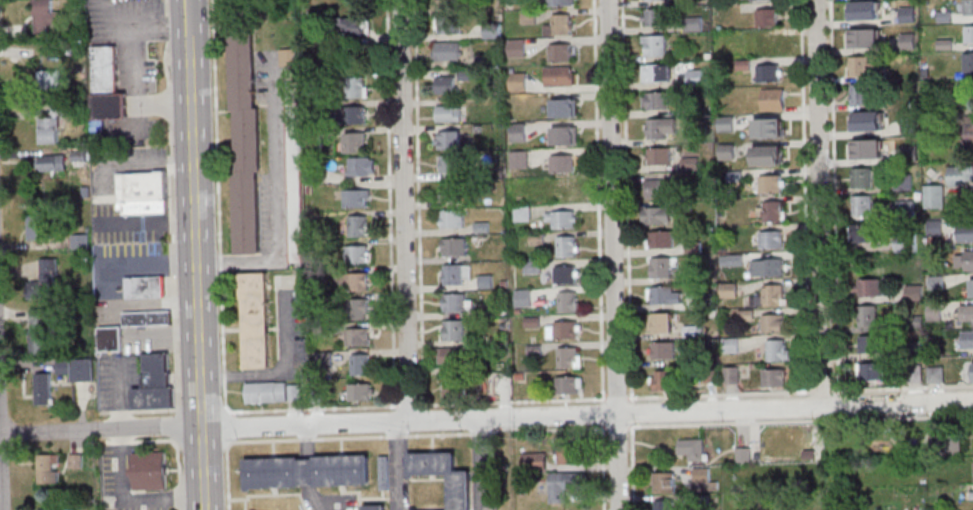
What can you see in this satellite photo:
building: (654, 0)
building: (765, 0)
building: (561, 2)
building: (448, 3)
building: (968, 7)
building: (864, 9)
building: (906, 14)
building: (46, 15)
road: (190, 16)
building: (767, 16)
building: (657, 17)
building: (447, 24)
building: (557, 25)
building: (355, 28)
building: (969, 33)
building: (865, 38)
building: (907, 40)
building: (655, 44)
building: (769, 44)
building: (517, 47)
building: (448, 50)
building: (560, 51)
building: (287, 57)
building: (969, 62)
road: (131, 65)
building: (862, 66)
building: (657, 72)
building: (767, 72)
building: (558, 75)
building: (51, 78)
building: (518, 79)
building: (106, 84)
building: (445, 84)
building: (356, 86)
building: (861, 93)
building: (772, 99)
building: (658, 100)
building: (563, 107)
building: (449, 112)
building: (356, 114)
building: (867, 120)
building: (726, 123)
building: (910, 125)
building: (767, 127)
building: (661, 128)
building: (48, 129)
building: (518, 131)
building: (563, 134)
building: (968, 136)
building: (450, 138)
building: (245, 139)
building: (354, 141)
building: (867, 148)
building: (726, 151)
building: (659, 155)
building: (767, 155)
building: (50, 162)
building: (452, 162)
building: (563, 163)
road: (148, 164)
building: (361, 165)
building: (294, 172)
building: (861, 176)
building: (960, 176)
building: (770, 182)
building: (903, 182)
building: (659, 187)
building: (566, 190)
building: (142, 192)
building: (453, 192)
road: (276, 194)
road: (805, 194)
road: (834, 194)
building: (934, 195)
building: (357, 197)
road: (419, 201)
road: (390, 202)
road: (820, 202)
road: (169, 205)
building: (861, 205)
road: (612, 206)
road: (405, 210)
building: (772, 210)
building: (654, 215)
building: (454, 218)
building: (563, 219)
road: (151, 222)
building: (359, 225)
building: (37, 226)
building: (934, 226)
building: (967, 231)
building: (862, 233)
building: (770, 238)
building: (662, 239)
building: (79, 240)
building: (455, 245)
building: (566, 246)
building: (360, 253)
road: (219, 255)
road: (599, 255)
road: (627, 255)
building: (965, 260)
road: (150, 266)
building: (663, 266)
building: (771, 266)
road: (200, 271)
building: (453, 274)
building: (565, 274)
building: (45, 279)
building: (356, 281)
building: (146, 286)
building: (971, 287)
building: (868, 288)
building: (728, 290)
building: (662, 294)
building: (769, 295)
building: (455, 301)
building: (567, 301)
building: (357, 308)
building: (967, 312)
building: (868, 316)
building: (147, 317)
building: (257, 319)
building: (660, 322)
building: (773, 322)
building: (454, 329)
building: (566, 329)
building: (38, 330)
building: (357, 336)
building: (110, 338)
building: (967, 338)
building: (870, 344)
building: (663, 349)
building: (777, 349)
building: (453, 354)
building: (568, 357)
building: (360, 363)
building: (83, 369)
building: (972, 371)
building: (871, 372)
road: (289, 374)
building: (936, 374)
building: (731, 377)
building: (773, 377)
building: (664, 380)
building: (155, 383)
building: (567, 383)
building: (457, 387)
building: (44, 388)
building: (272, 391)
building: (361, 391)
road: (599, 397)
road: (121, 411)
road: (486, 419)
road: (178, 426)
road: (600, 426)
road: (142, 440)
building: (692, 448)
building: (743, 454)
road: (1, 458)
building: (534, 459)
building: (75, 460)
road: (178, 460)
road: (618, 461)
road: (400, 463)
road: (478, 465)
building: (49, 468)
building: (306, 470)
building: (149, 471)
building: (384, 472)
road: (309, 473)
building: (702, 474)
building: (665, 482)
building: (564, 484)
building: (459, 491)
road: (180, 495)
road: (134, 497)
building: (664, 504)
building: (374, 507)
building: (48, 509)
building: (412, 509)

